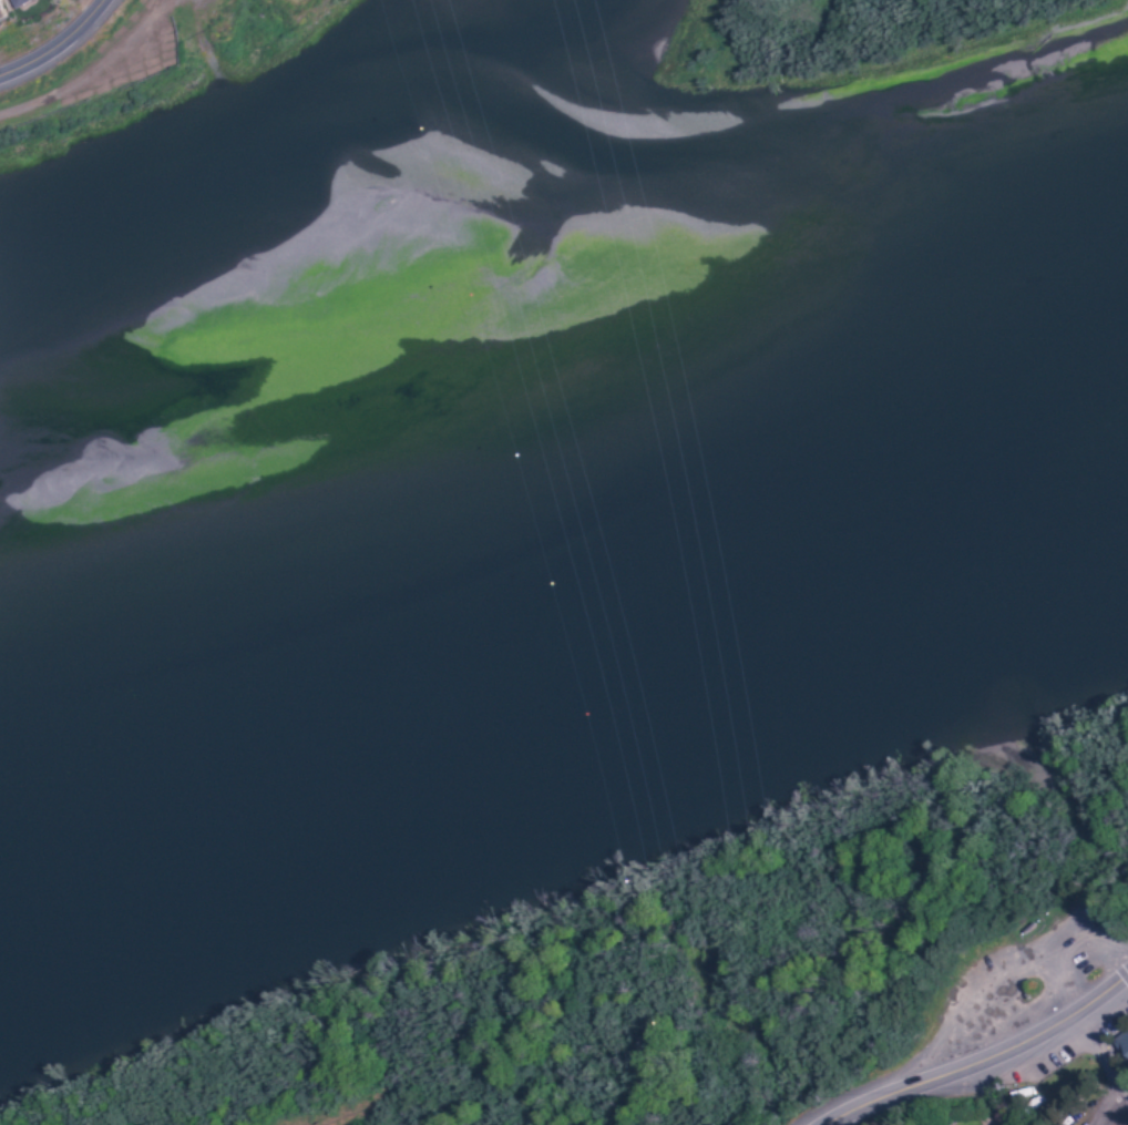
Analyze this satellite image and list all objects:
building: (18, 2)
road: (57, 45)
river: (565, 590)
building: (1122, 1051)
road: (985, 1063)

